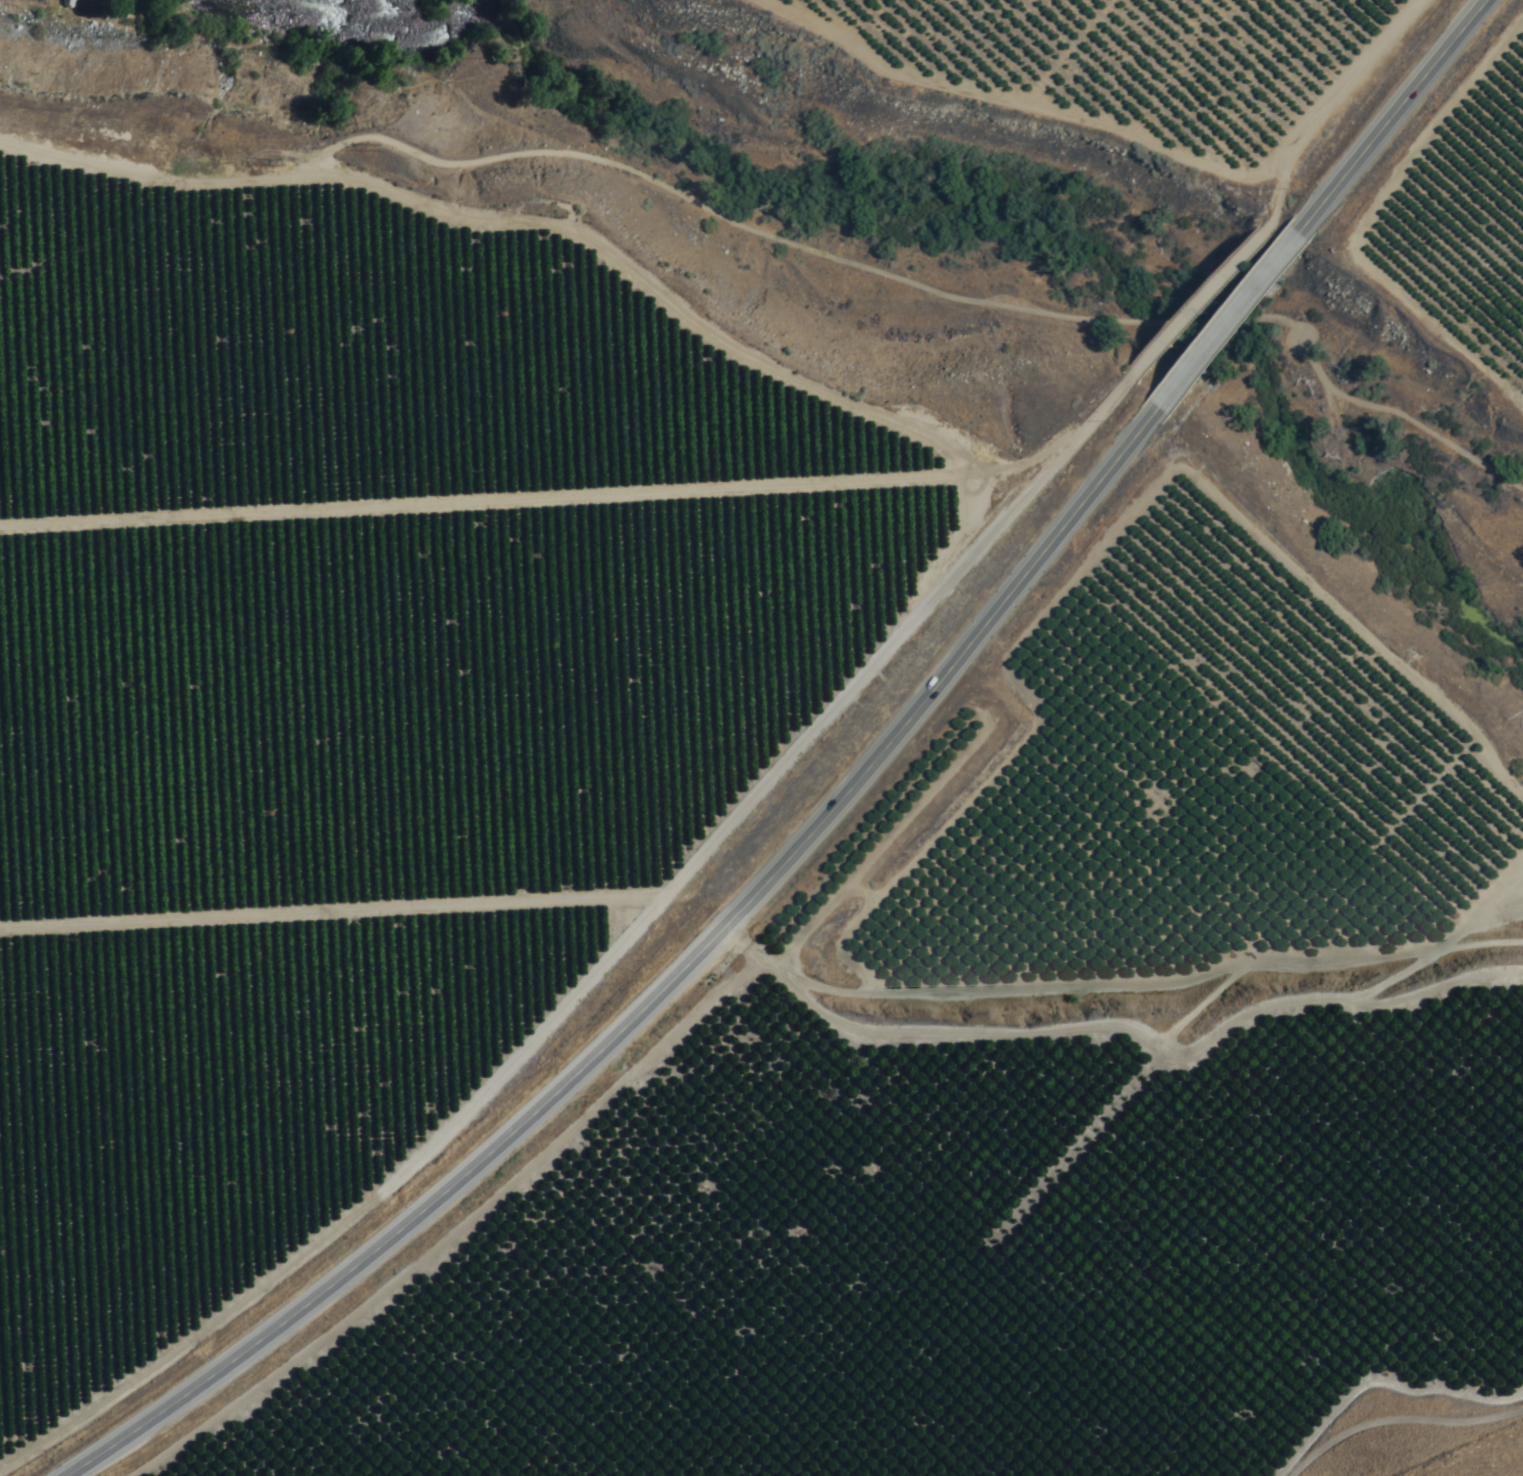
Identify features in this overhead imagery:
river: (474, 8)
river: (356, 37)
road: (1395, 116)
road: (1227, 321)
crop: (380, 687)
road: (1481, 951)
road: (661, 996)

